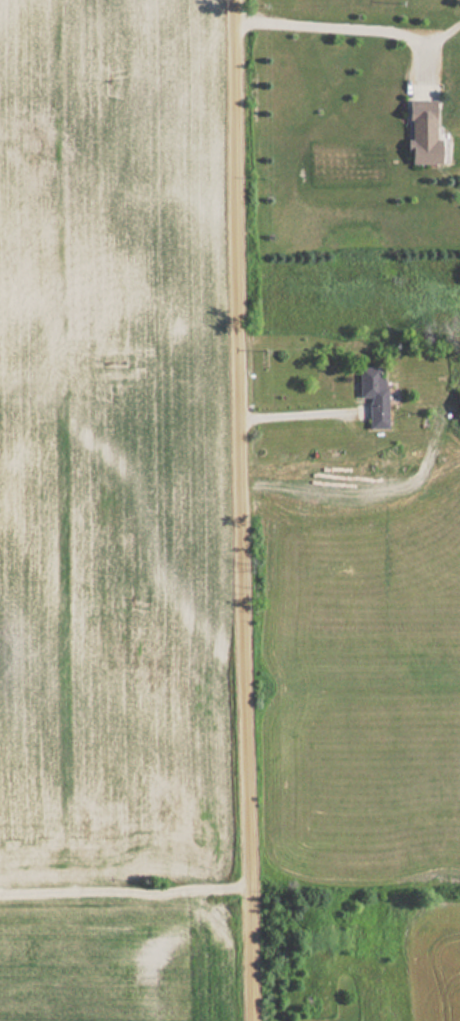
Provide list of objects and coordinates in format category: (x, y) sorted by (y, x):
building: (420, 132)
building: (372, 394)
building: (457, 405)
road: (246, 510)
road: (126, 896)

